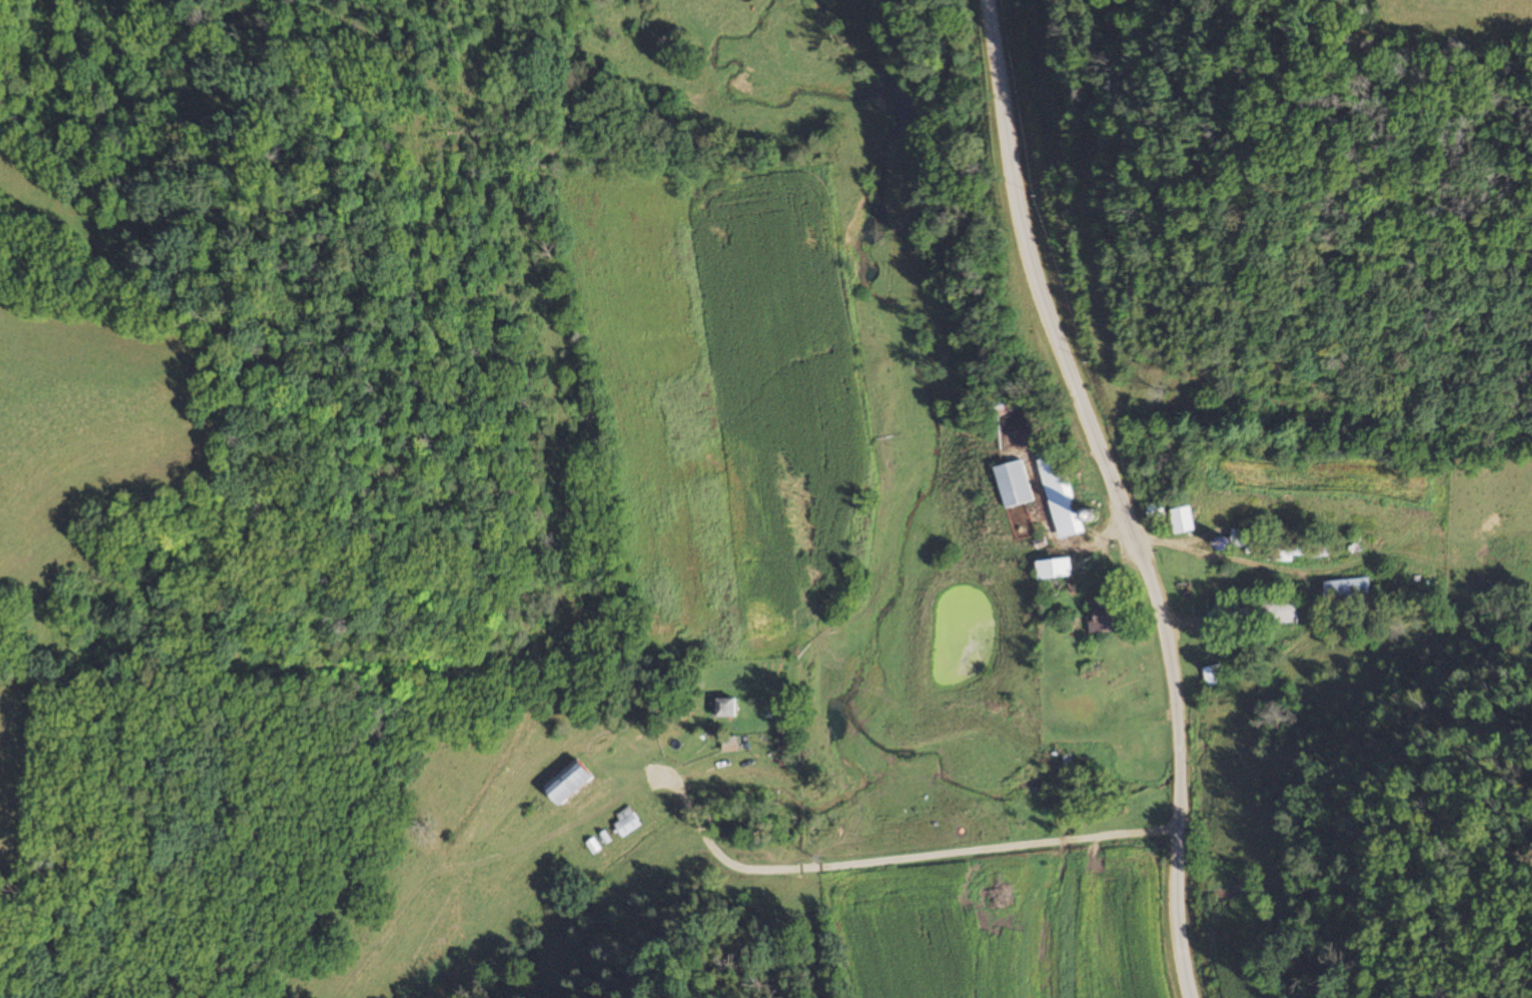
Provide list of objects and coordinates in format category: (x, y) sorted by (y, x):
building: (1013, 484)
road: (1120, 493)
building: (1061, 497)
building: (1180, 520)
building: (1242, 541)
building: (1295, 547)
building: (1056, 574)
building: (1347, 591)
building: (1251, 613)
building: (1101, 617)
building: (1214, 676)
building: (722, 708)
building: (1101, 755)
building: (564, 783)
building: (625, 822)
road: (903, 855)

